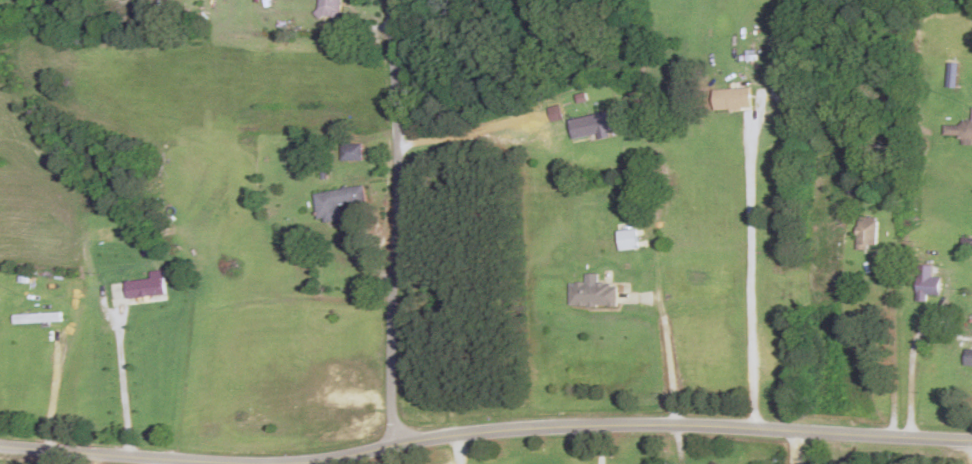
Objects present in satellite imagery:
building: (328, 8)
building: (731, 99)
building: (595, 125)
building: (959, 131)
building: (351, 152)
building: (337, 201)
road: (411, 223)
building: (868, 234)
building: (928, 284)
building: (146, 288)
building: (594, 295)
building: (37, 319)
building: (969, 359)
road: (682, 415)
road: (800, 449)
road: (112, 452)
road: (341, 455)

